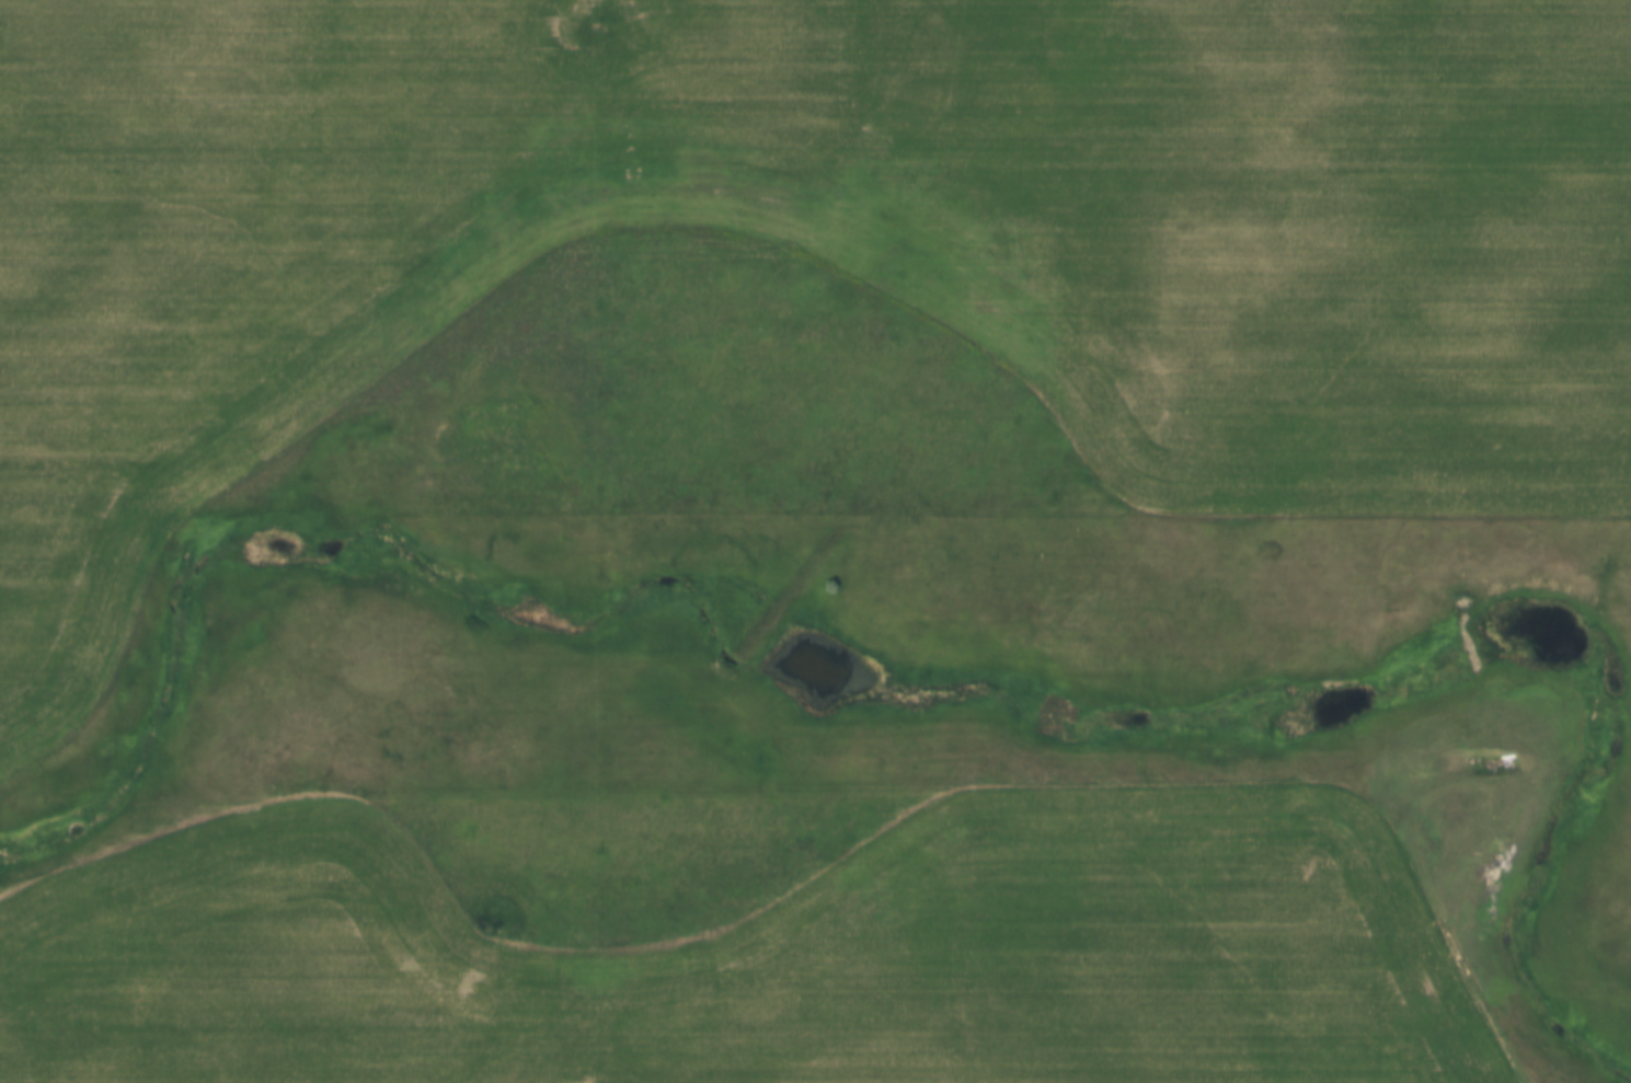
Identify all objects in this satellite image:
road: (1465, 950)

